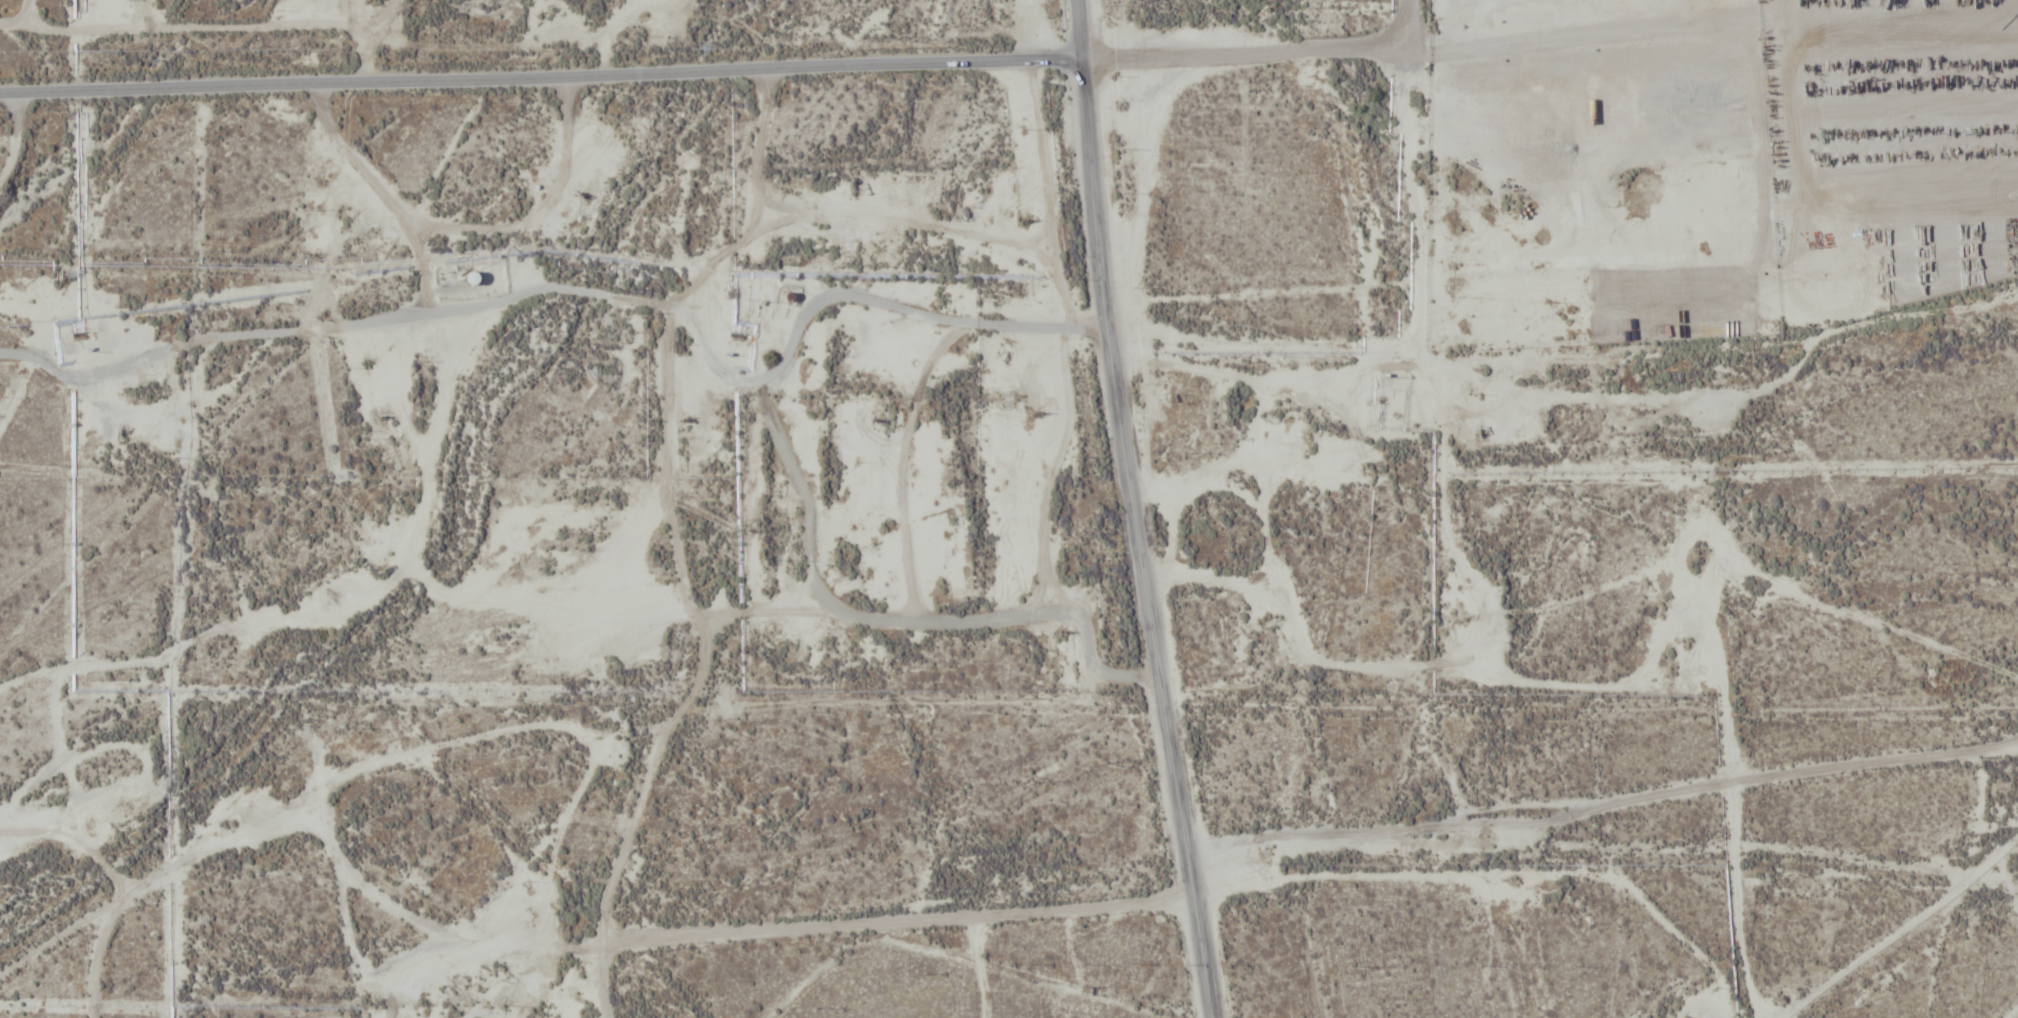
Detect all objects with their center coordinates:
road: (46, 46)
road: (542, 81)
road: (821, 305)
road: (98, 476)
road: (1135, 510)
road: (895, 623)
road: (165, 877)
road: (347, 916)
road: (773, 930)
road: (2012, 1011)

